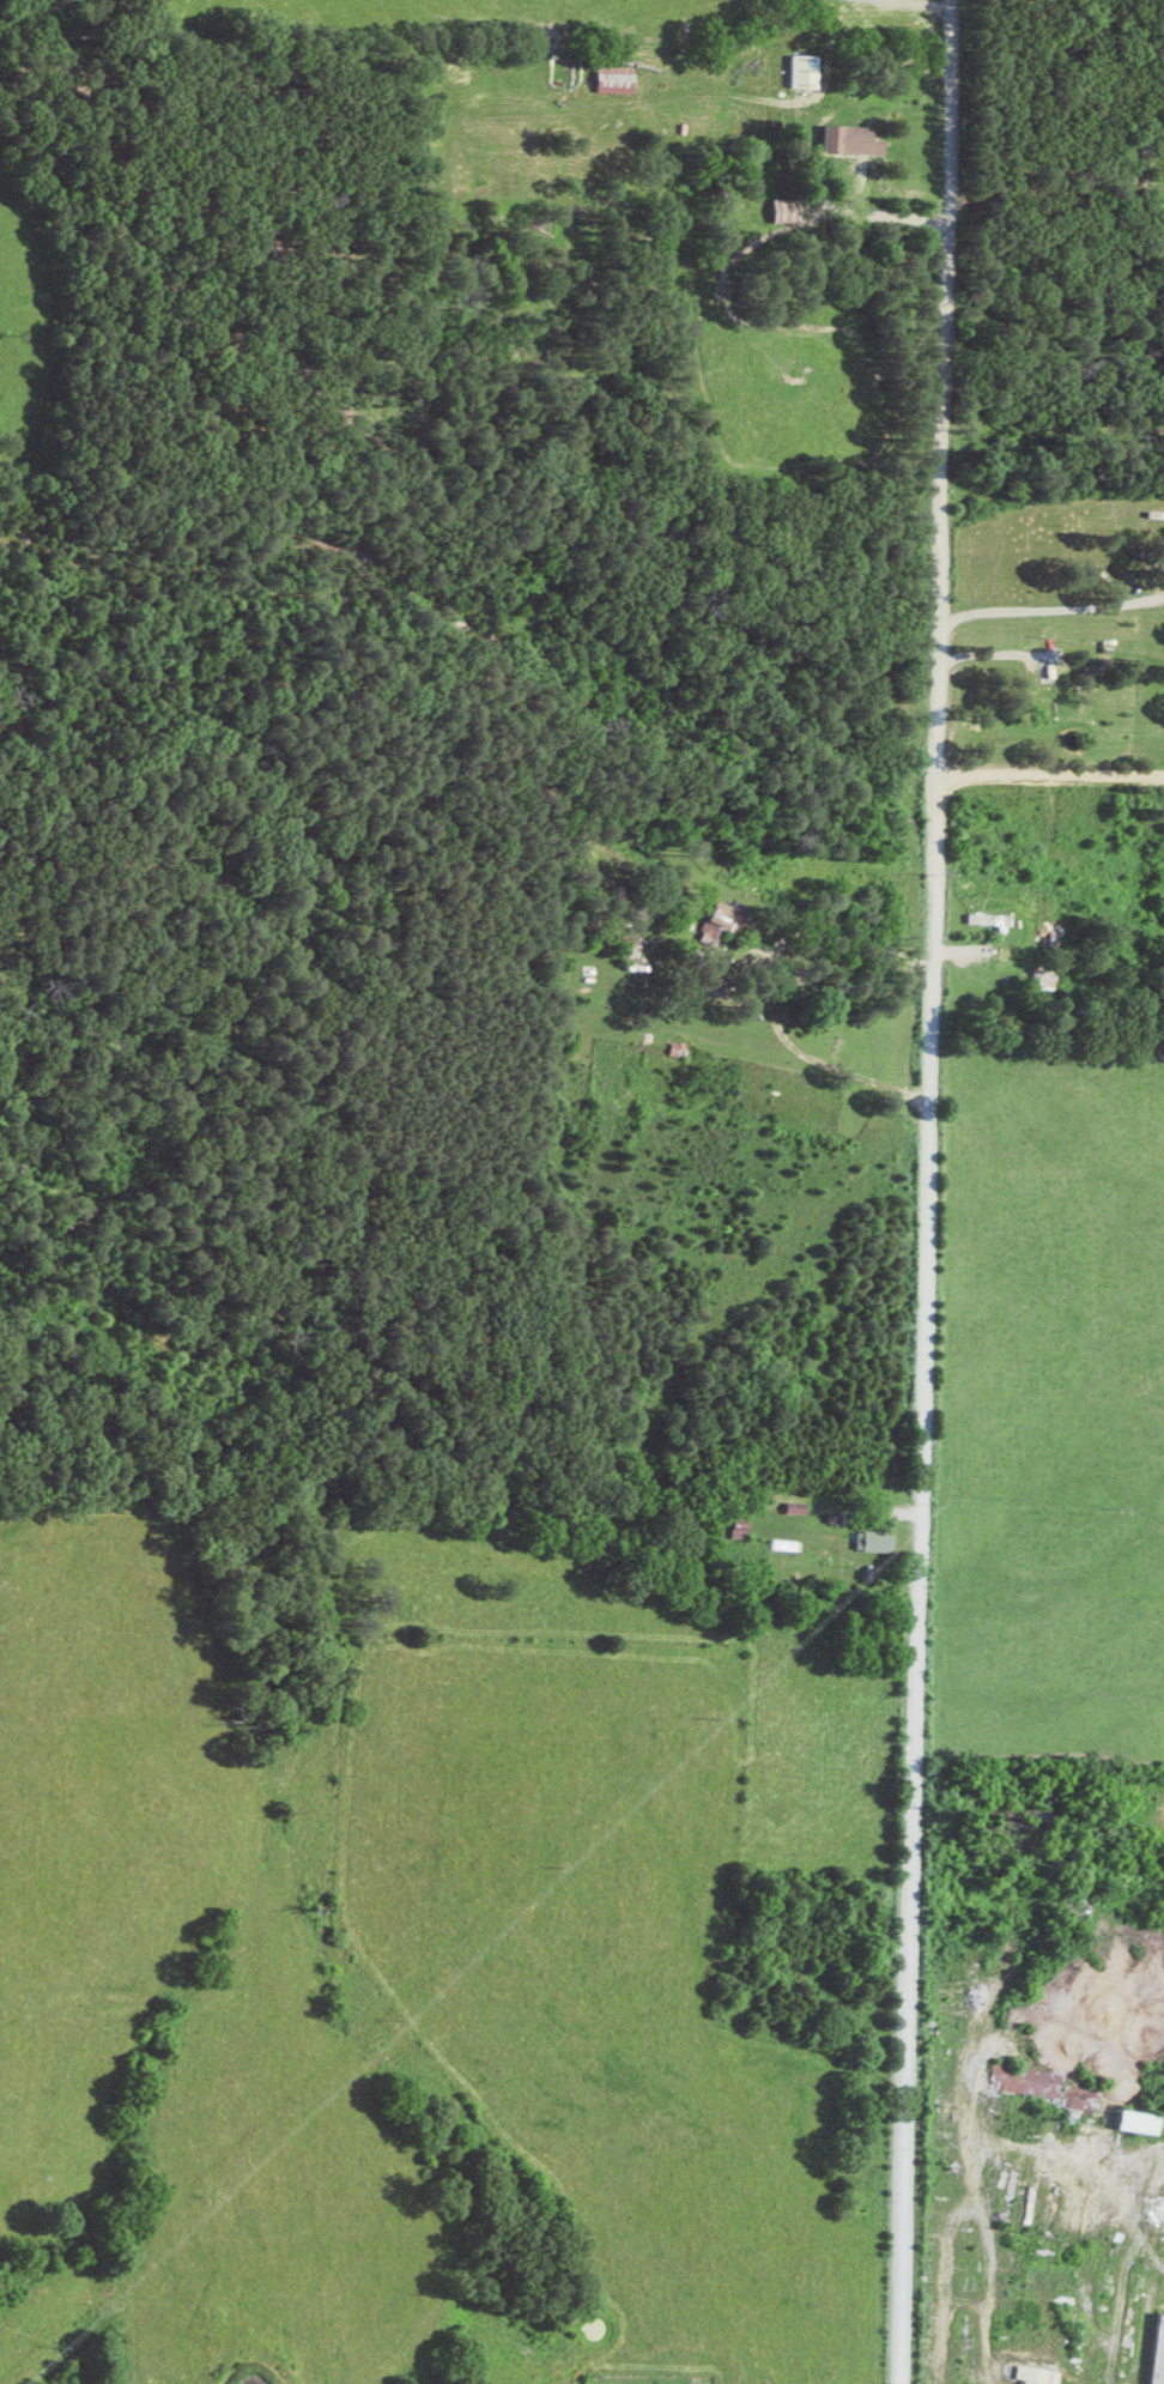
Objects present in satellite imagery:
building: (810, 69)
building: (620, 77)
building: (855, 138)
building: (792, 207)
road: (824, 213)
building: (728, 918)
building: (994, 918)
road: (804, 946)
road: (926, 1192)
building: (883, 1541)
road: (1055, 1978)
building: (1032, 2080)
building: (1087, 2100)
building: (1142, 2122)
building: (1160, 2360)
building: (1043, 2374)

